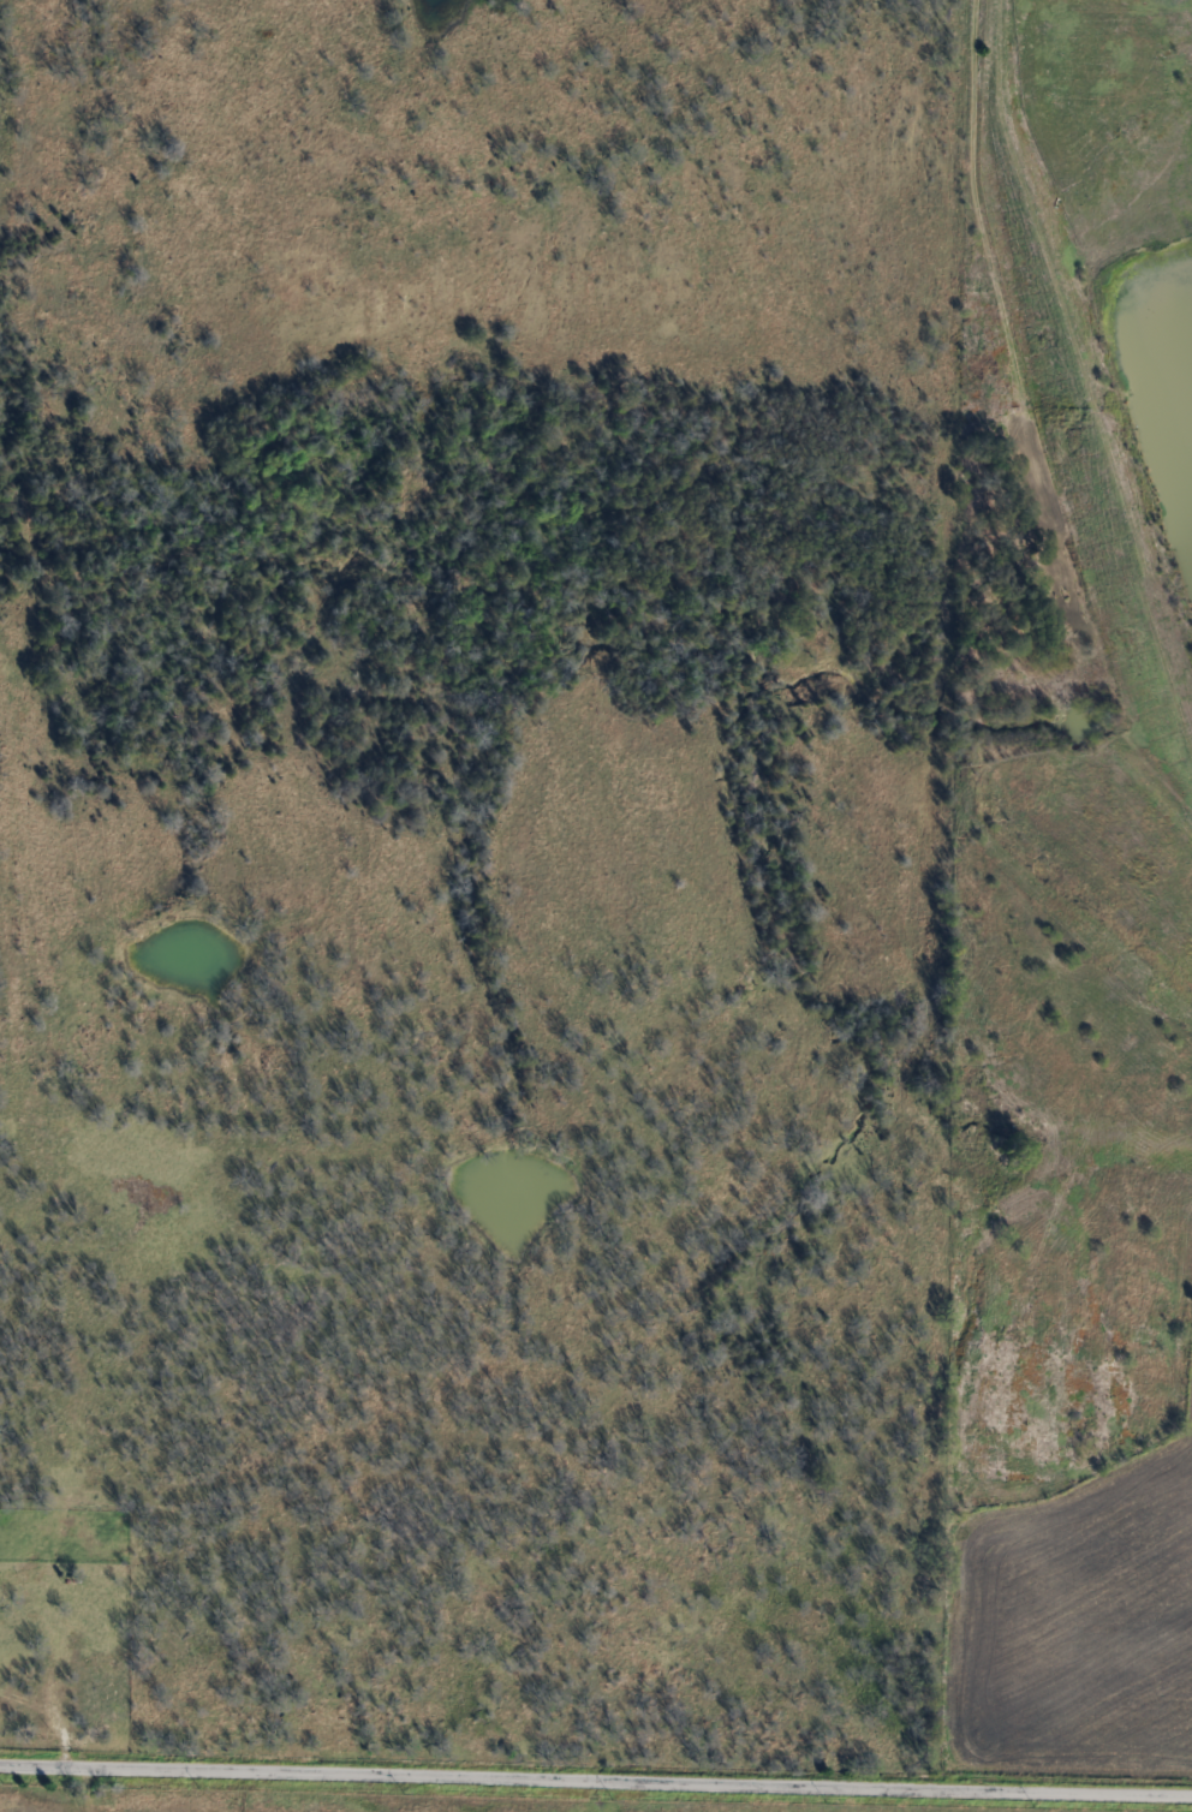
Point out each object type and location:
road: (596, 1781)

